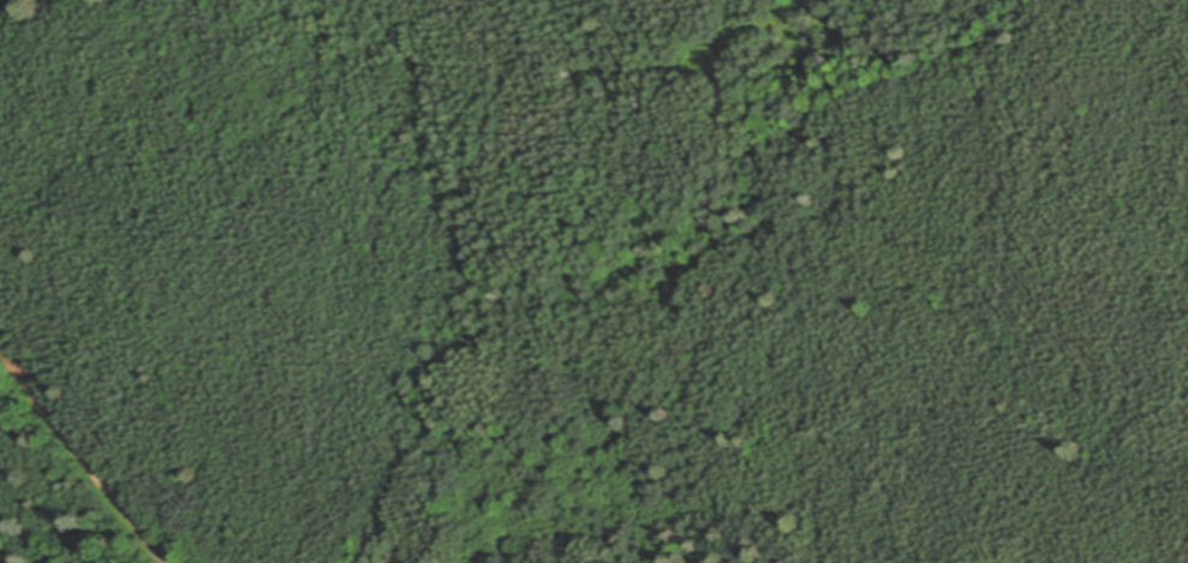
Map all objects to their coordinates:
road: (80, 454)

